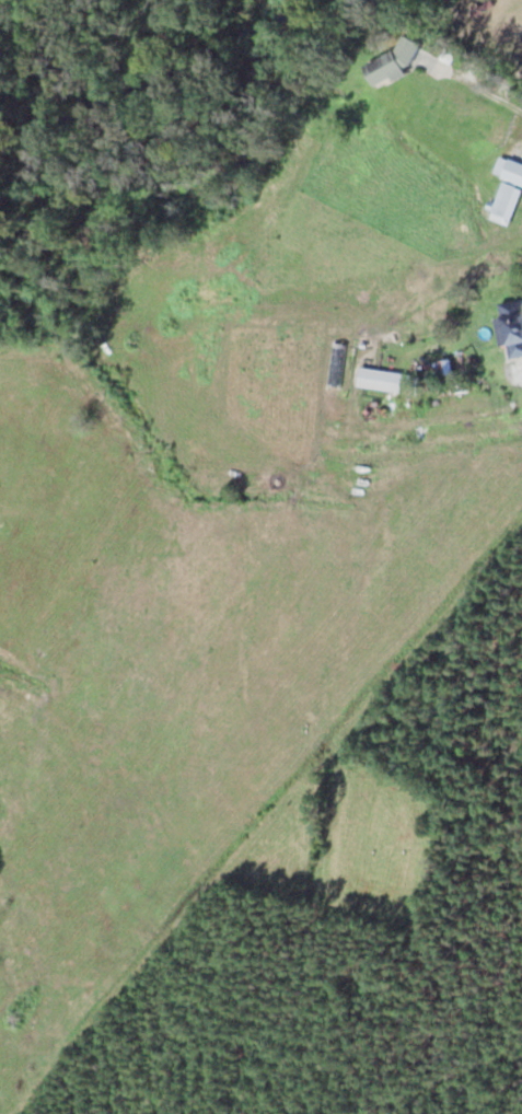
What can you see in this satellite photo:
building: (395, 57)
building: (507, 187)
building: (512, 325)
building: (381, 379)

